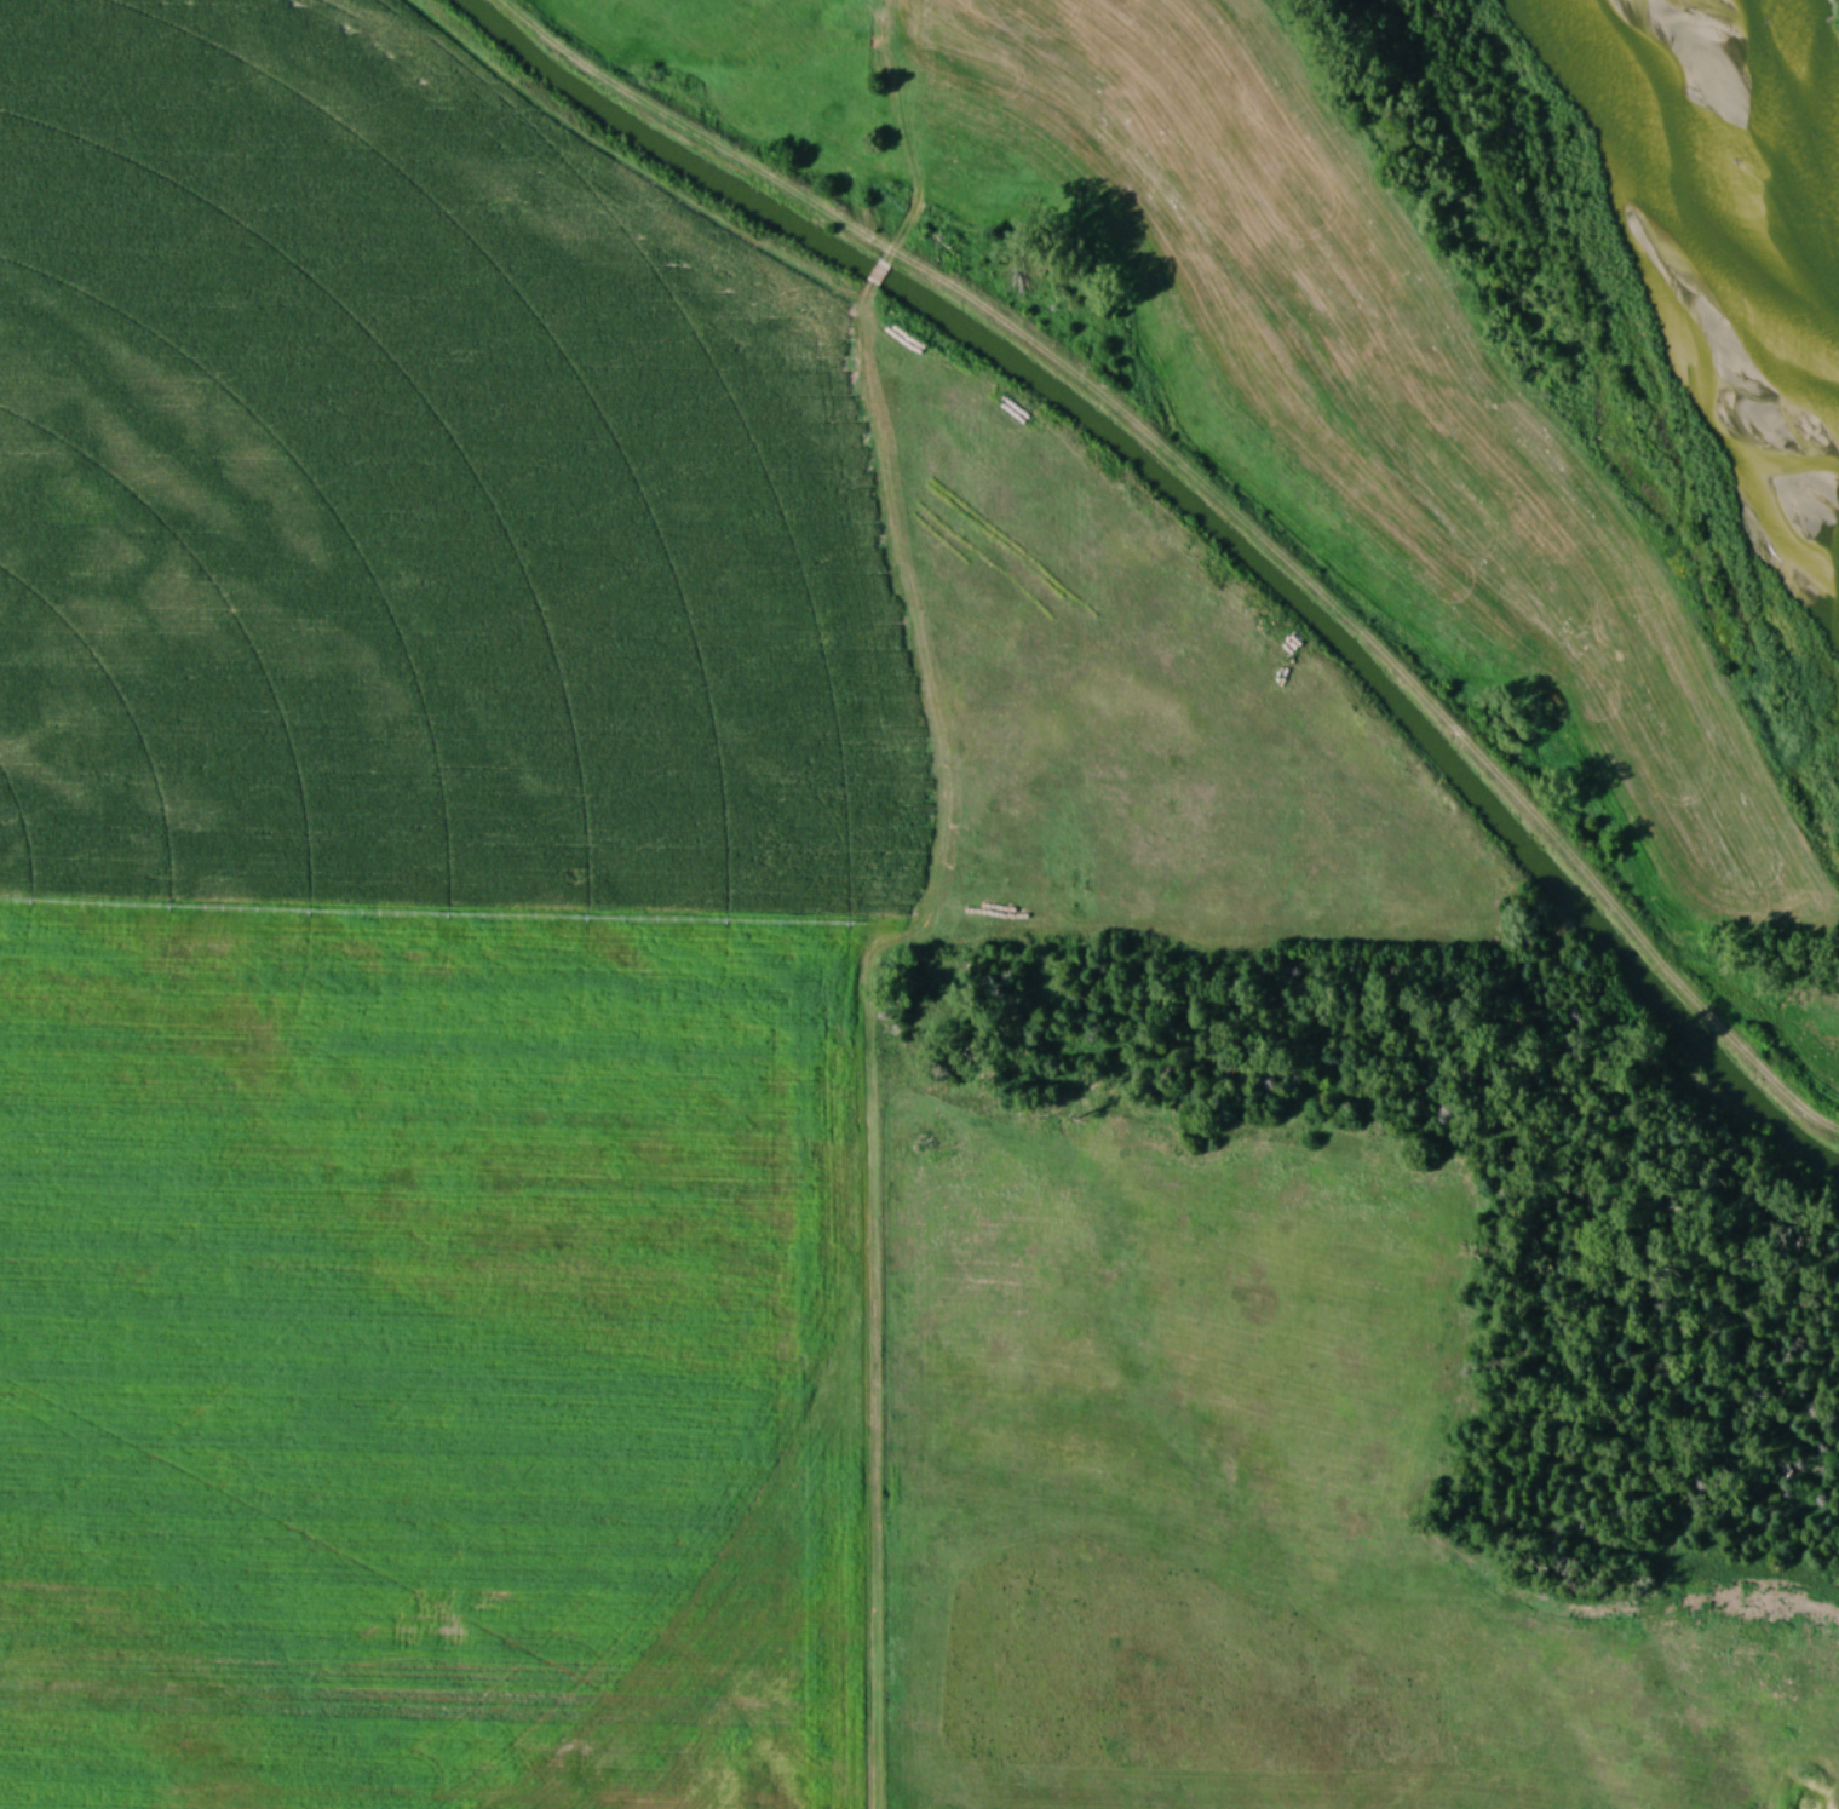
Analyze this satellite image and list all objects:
river: (1725, 230)
building: (879, 272)

